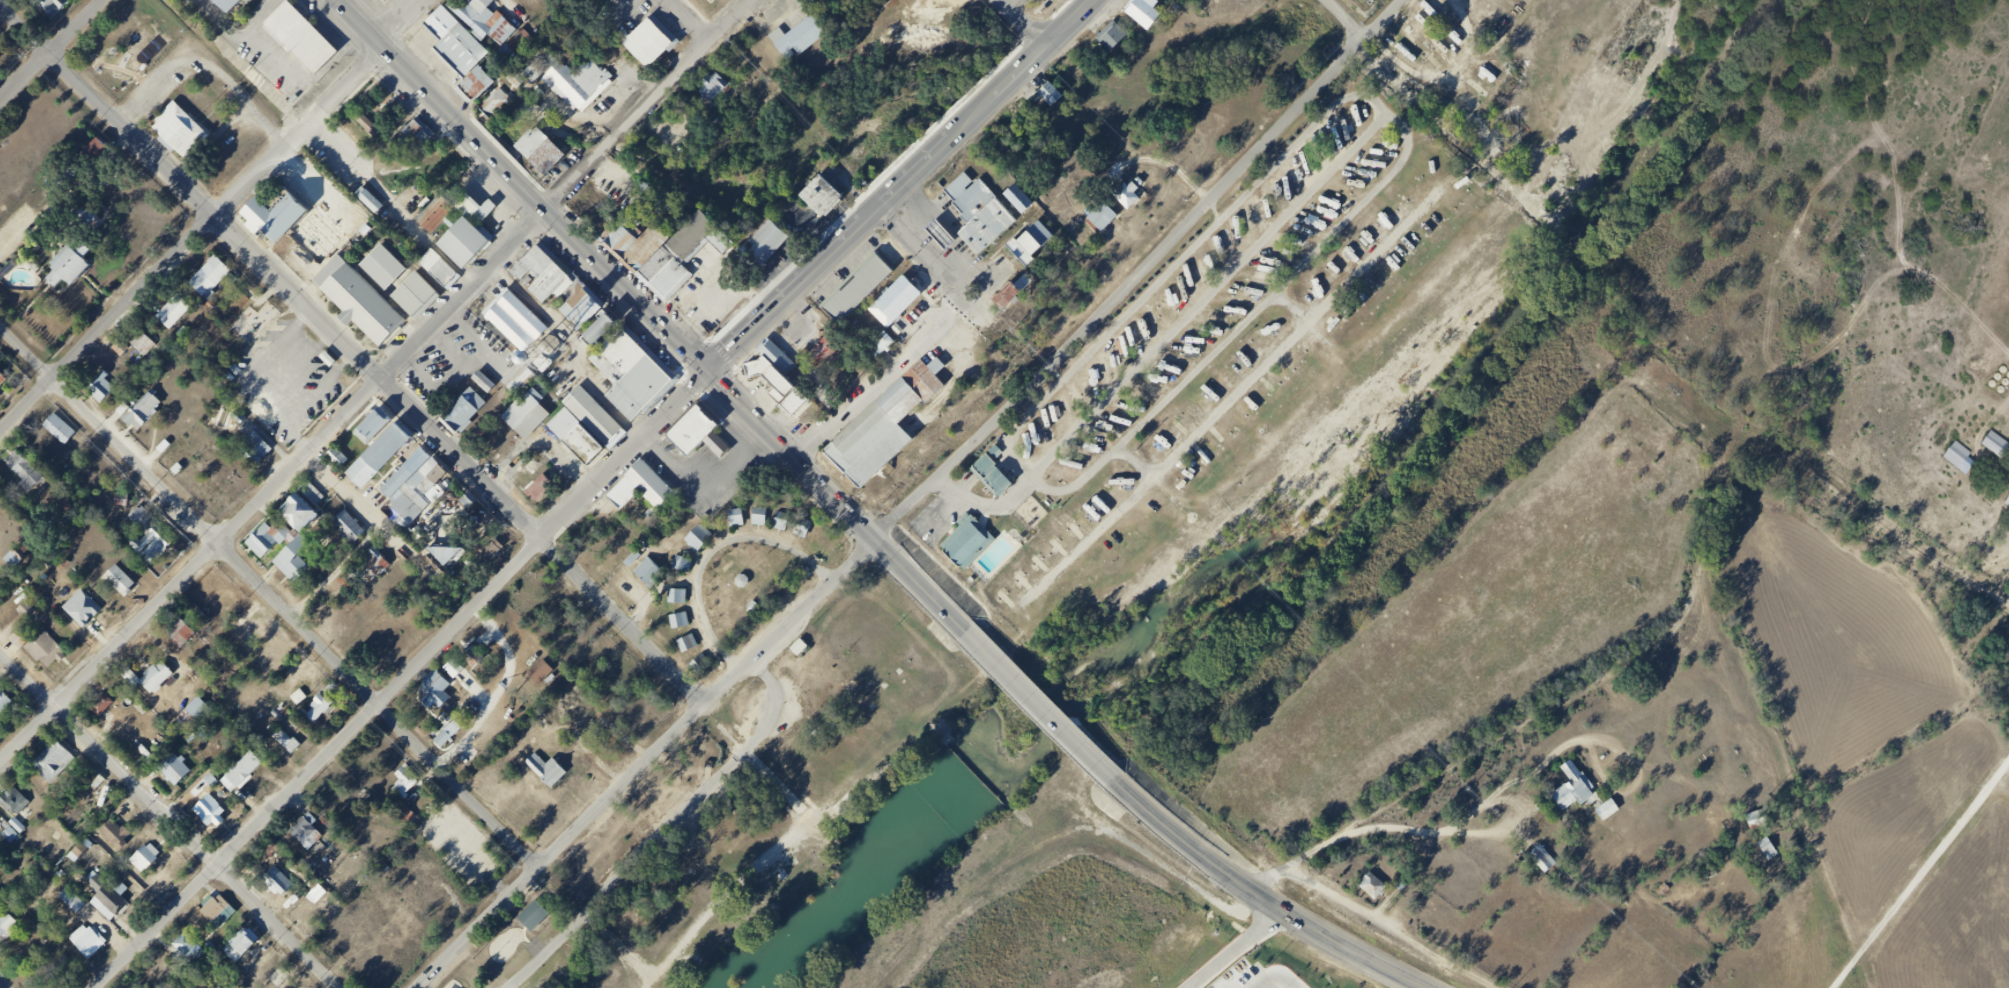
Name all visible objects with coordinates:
building: (716, 1)
building: (851, 2)
building: (228, 5)
building: (58, 10)
building: (1150, 16)
road: (689, 20)
building: (489, 22)
road: (1022, 23)
building: (301, 37)
building: (454, 42)
building: (1119, 43)
park: (126, 45)
building: (804, 45)
building: (654, 49)
road: (49, 50)
building: (1, 60)
parking lot: (278, 64)
road: (206, 67)
building: (1, 70)
flagpole: (368, 82)
road: (1421, 83)
flagpole: (366, 85)
building: (475, 85)
flagpole: (363, 87)
building: (587, 87)
building: (713, 87)
flagpole: (361, 90)
parking lot: (153, 91)
flagpole: (358, 92)
road: (998, 92)
building: (1050, 94)
building: (720, 95)
building: (1058, 100)
building: (495, 103)
park: (384, 104)
road: (646, 105)
road: (1378, 108)
building: (366, 122)
building: (1327, 129)
building: (179, 130)
building: (415, 136)
building: (539, 150)
building: (93, 152)
parking lot: (339, 152)
building: (104, 160)
building: (950, 184)
road: (520, 186)
building: (1121, 193)
building: (1008, 195)
building: (1018, 198)
building: (963, 199)
building: (369, 200)
building: (827, 204)
building: (475, 208)
building: (1094, 214)
building: (438, 215)
building: (274, 217)
road: (210, 219)
building: (975, 224)
building: (1029, 228)
building: (930, 232)
gas station: (930, 232)
building: (337, 233)
building: (604, 234)
building: (941, 235)
building: (705, 241)
building: (762, 245)
building: (623, 246)
building: (1012, 246)
building: (471, 251)
building: (631, 253)
building: (650, 253)
building: (304, 254)
building: (384, 266)
building: (437, 267)
building: (538, 270)
building: (77, 272)
road: (802, 280)
building: (218, 282)
building: (669, 283)
building: (555, 290)
building: (571, 294)
building: (415, 295)
building: (995, 295)
building: (1006, 295)
building: (864, 298)
building: (895, 301)
building: (359, 303)
building: (577, 305)
road: (1288, 307)
building: (173, 311)
building: (902, 314)
building: (586, 315)
building: (183, 320)
building: (597, 321)
building: (511, 323)
road: (1168, 338)
building: (606, 341)
road: (477, 342)
road: (926, 343)
building: (879, 345)
building: (148, 347)
building: (824, 349)
building: (542, 351)
building: (126, 353)
road: (351, 354)
building: (776, 356)
parking lot: (457, 362)
road: (477, 362)
building: (829, 362)
building: (625, 363)
road: (297, 368)
traffic signals: (704, 373)
parking lot: (287, 378)
building: (769, 378)
road: (240, 379)
building: (521, 381)
building: (484, 382)
road: (455, 384)
building: (6, 386)
building: (529, 387)
building: (107, 392)
road: (321, 393)
building: (645, 397)
road: (1229, 399)
building: (794, 402)
building: (547, 406)
water tower: (547, 406)
building: (526, 415)
building: (469, 416)
road: (751, 416)
building: (143, 418)
building: (601, 420)
building: (884, 424)
building: (371, 427)
building: (66, 435)
building: (706, 441)
building: (584, 445)
building: (1997, 446)
building: (386, 447)
building: (488, 447)
building: (996, 452)
building: (262, 455)
building: (336, 457)
building: (1958, 457)
road: (1132, 462)
building: (405, 472)
building: (992, 476)
building: (365, 477)
building: (34, 482)
road: (272, 489)
building: (539, 489)
building: (421, 491)
building: (313, 495)
building: (651, 496)
building: (468, 501)
road: (915, 501)
building: (2007, 504)
building: (758, 515)
building: (735, 518)
building: (780, 521)
building: (742, 522)
building: (307, 524)
building: (801, 527)
building: (699, 537)
building: (356, 538)
river: (1314, 538)
building: (967, 542)
road: (882, 543)
building: (158, 544)
building: (272, 548)
building: (490, 550)
road: (712, 551)
building: (444, 553)
building: (681, 565)
building: (31, 569)
building: (298, 569)
building: (383, 573)
building: (648, 573)
building: (127, 589)
road: (269, 593)
building: (676, 597)
building: (25, 610)
building: (91, 614)
building: (679, 620)
building: (187, 641)
building: (254, 641)
building: (687, 643)
building: (799, 648)
building: (806, 653)
building: (53, 656)
building: (473, 657)
building: (484, 664)
building: (699, 665)
building: (541, 672)
building: (156, 677)
building: (549, 678)
road: (400, 679)
building: (163, 685)
building: (449, 691)
building: (304, 701)
building: (101, 705)
road: (773, 706)
building: (8, 707)
building: (197, 708)
building: (317, 708)
road: (1555, 708)
building: (107, 711)
building: (325, 714)
building: (200, 717)
road: (1052, 717)
building: (292, 745)
road: (759, 766)
building: (59, 768)
building: (245, 768)
dam: (981, 769)
building: (181, 776)
building: (250, 777)
building: (553, 777)
building: (404, 779)
building: (411, 792)
building: (1578, 792)
building: (20, 802)
park: (743, 806)
building: (218, 810)
building: (1607, 810)
building: (1614, 814)
road: (173, 815)
building: (1755, 821)
building: (24, 828)
building: (3, 831)
building: (10, 835)
building: (314, 838)
building: (17, 839)
building: (124, 841)
building: (1768, 849)
road: (798, 861)
building: (153, 864)
building: (1551, 864)
road: (631, 871)
road: (761, 873)
road: (1922, 876)
building: (285, 886)
building: (1380, 891)
building: (114, 902)
road: (1277, 905)
building: (533, 916)
building: (215, 922)
road: (597, 924)
road: (1393, 930)
building: (11, 934)
building: (92, 942)
building: (239, 945)
building: (100, 951)
building: (250, 951)
building: (189, 953)
road: (6, 981)

